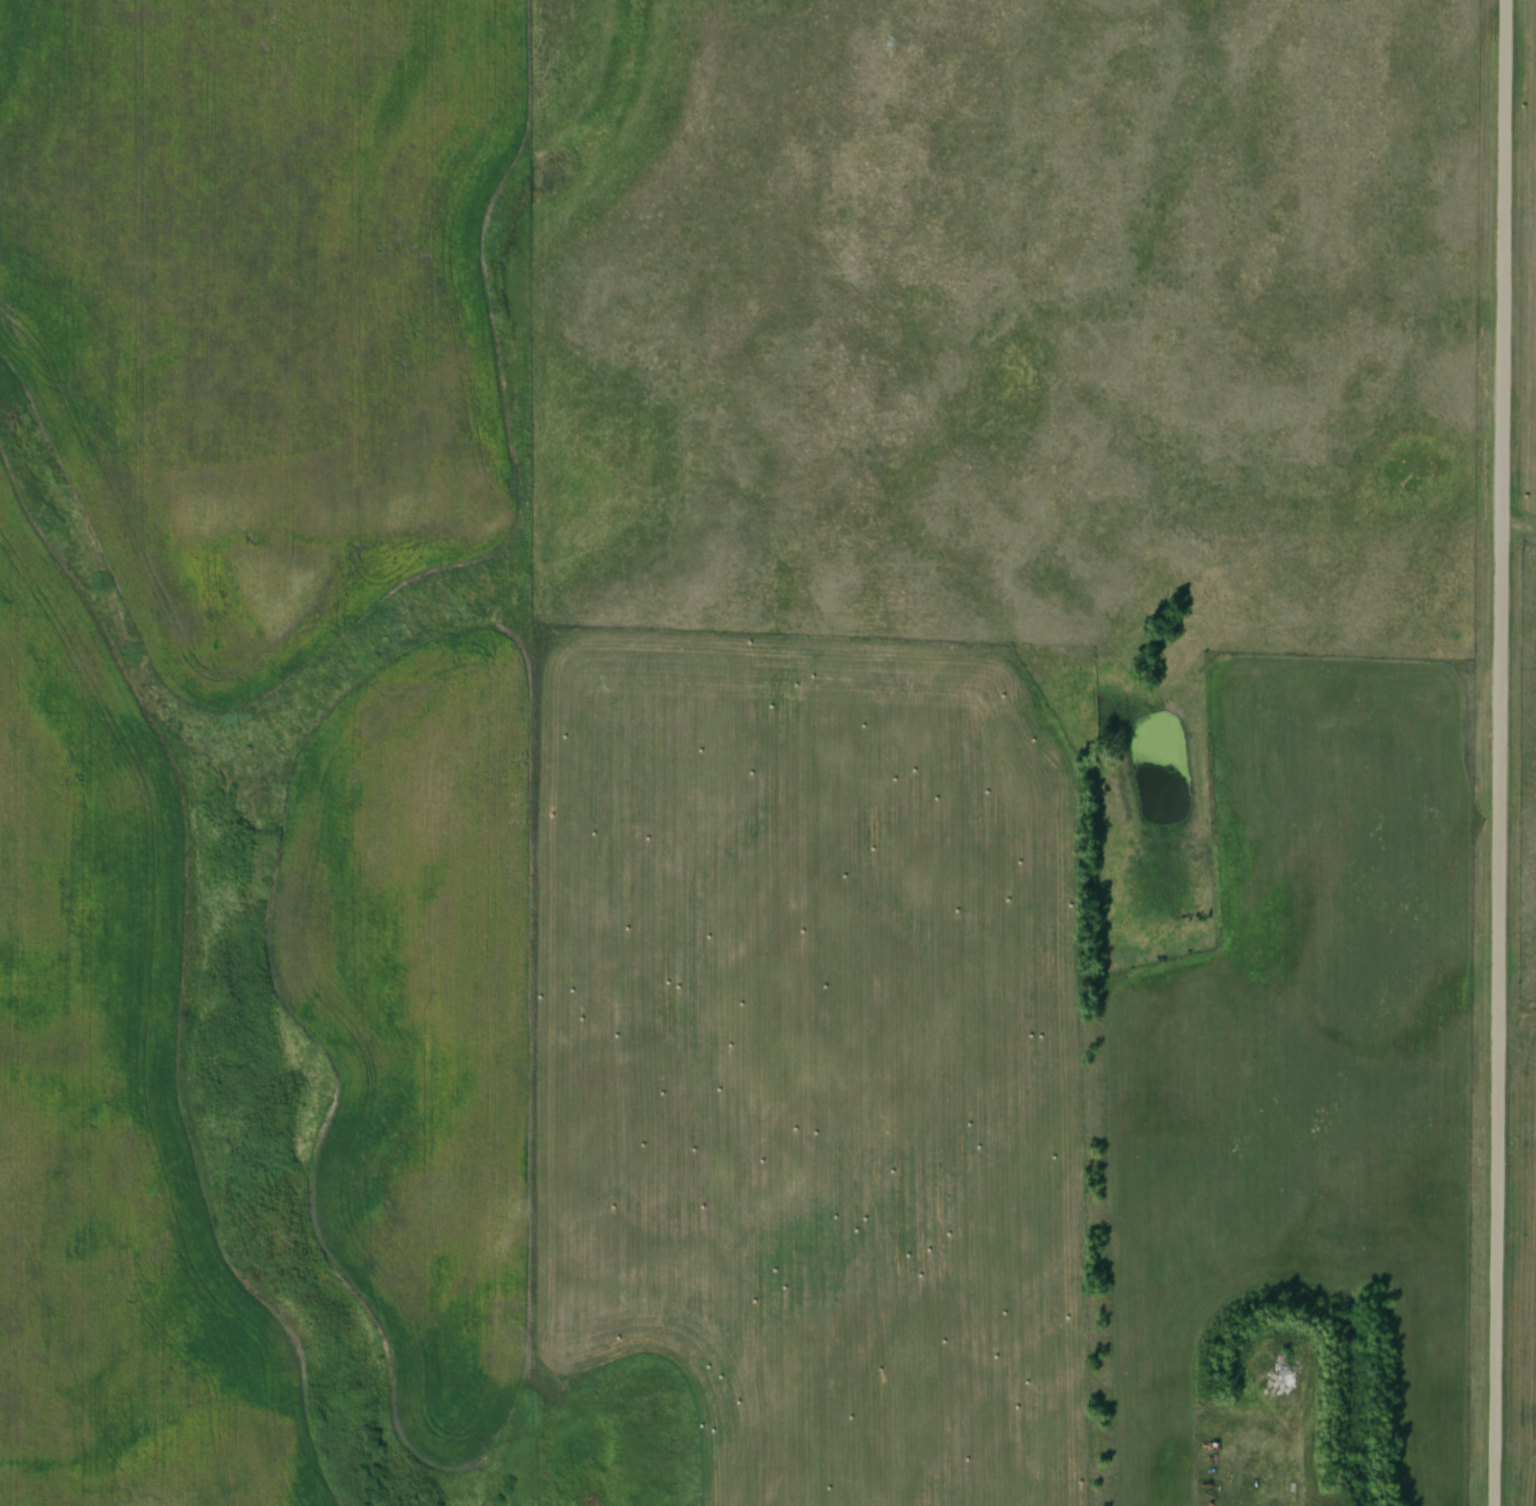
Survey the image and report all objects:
road: (1499, 753)

